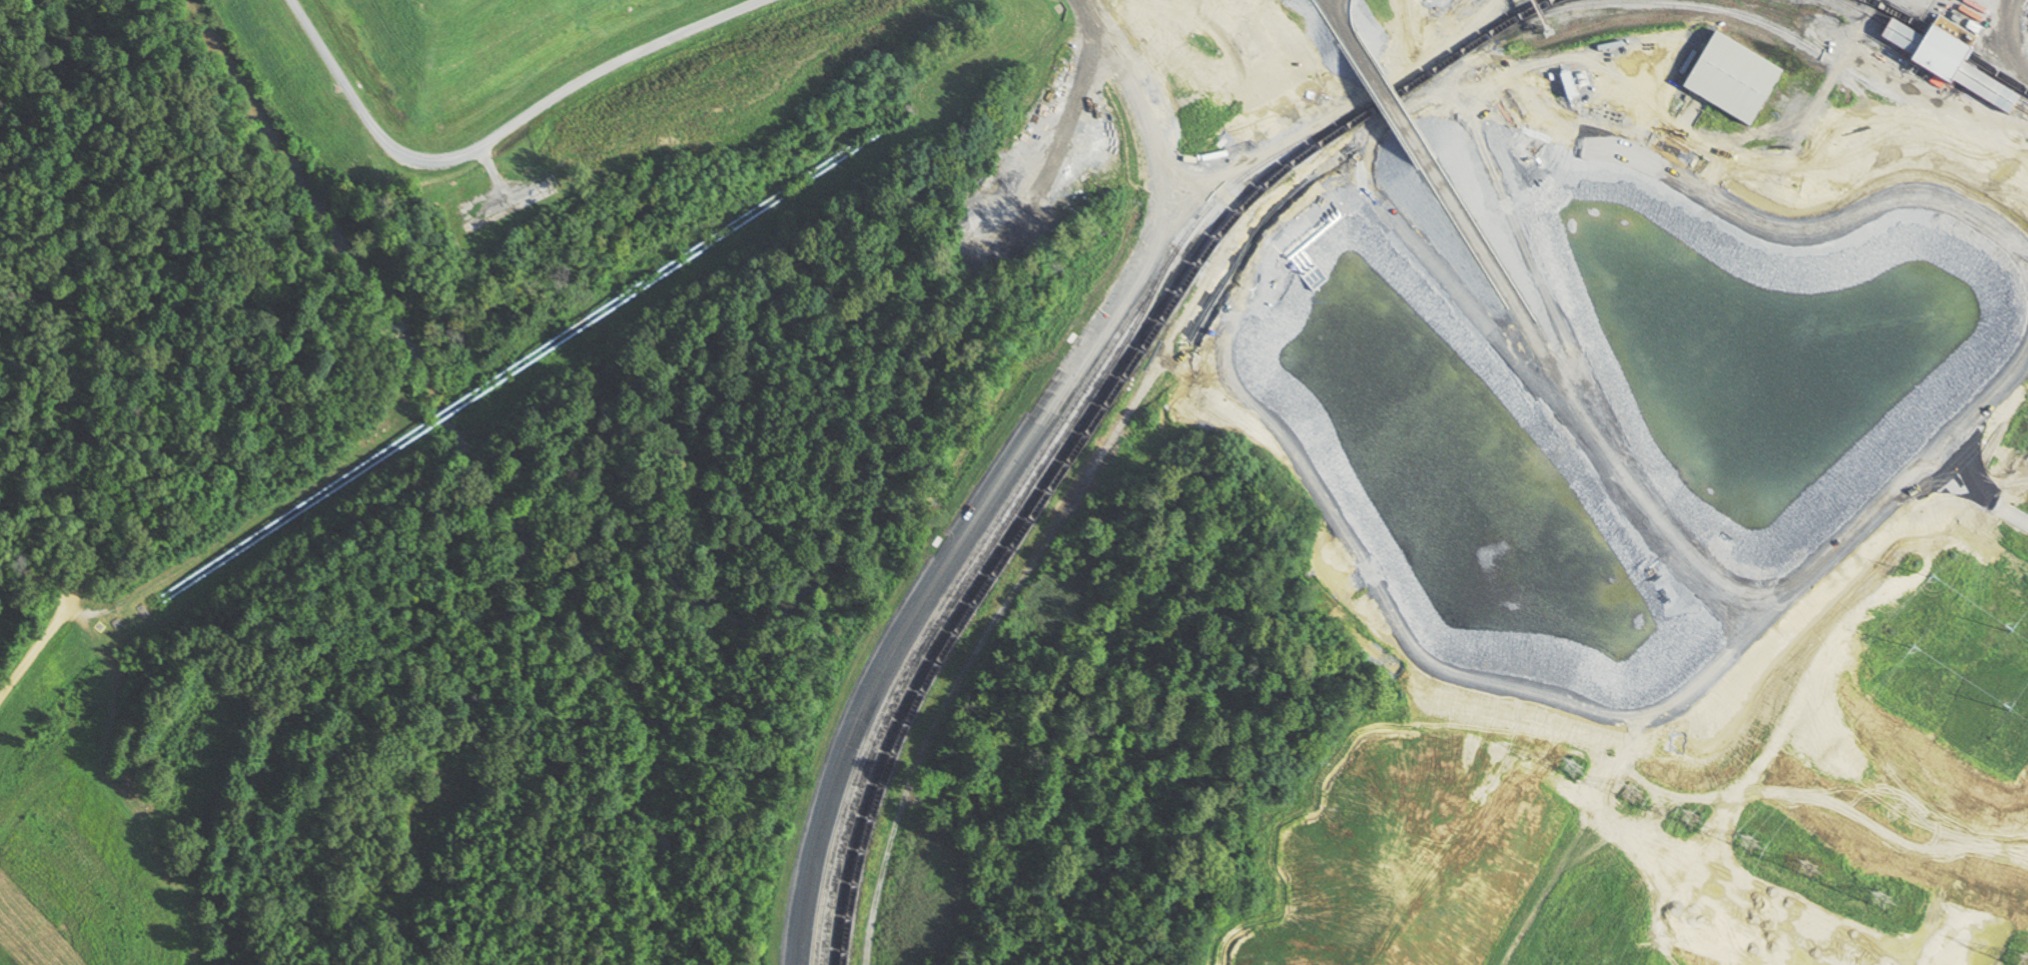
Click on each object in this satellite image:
railway: (1771, 28)
road: (2004, 38)
railway: (1930, 56)
building: (1949, 64)
building: (1731, 79)
building: (1948, 133)
road: (499, 139)
road: (1227, 201)
road: (1730, 216)
railway: (1108, 399)
railway: (1038, 455)
railway: (1039, 486)
railway: (961, 589)
road: (38, 649)
power tower: (1570, 767)
power tower: (1632, 794)
power tower: (1689, 820)
power tower: (1749, 845)
power tower: (1811, 891)
power tower: (1880, 899)
power tower: (2027, 964)

